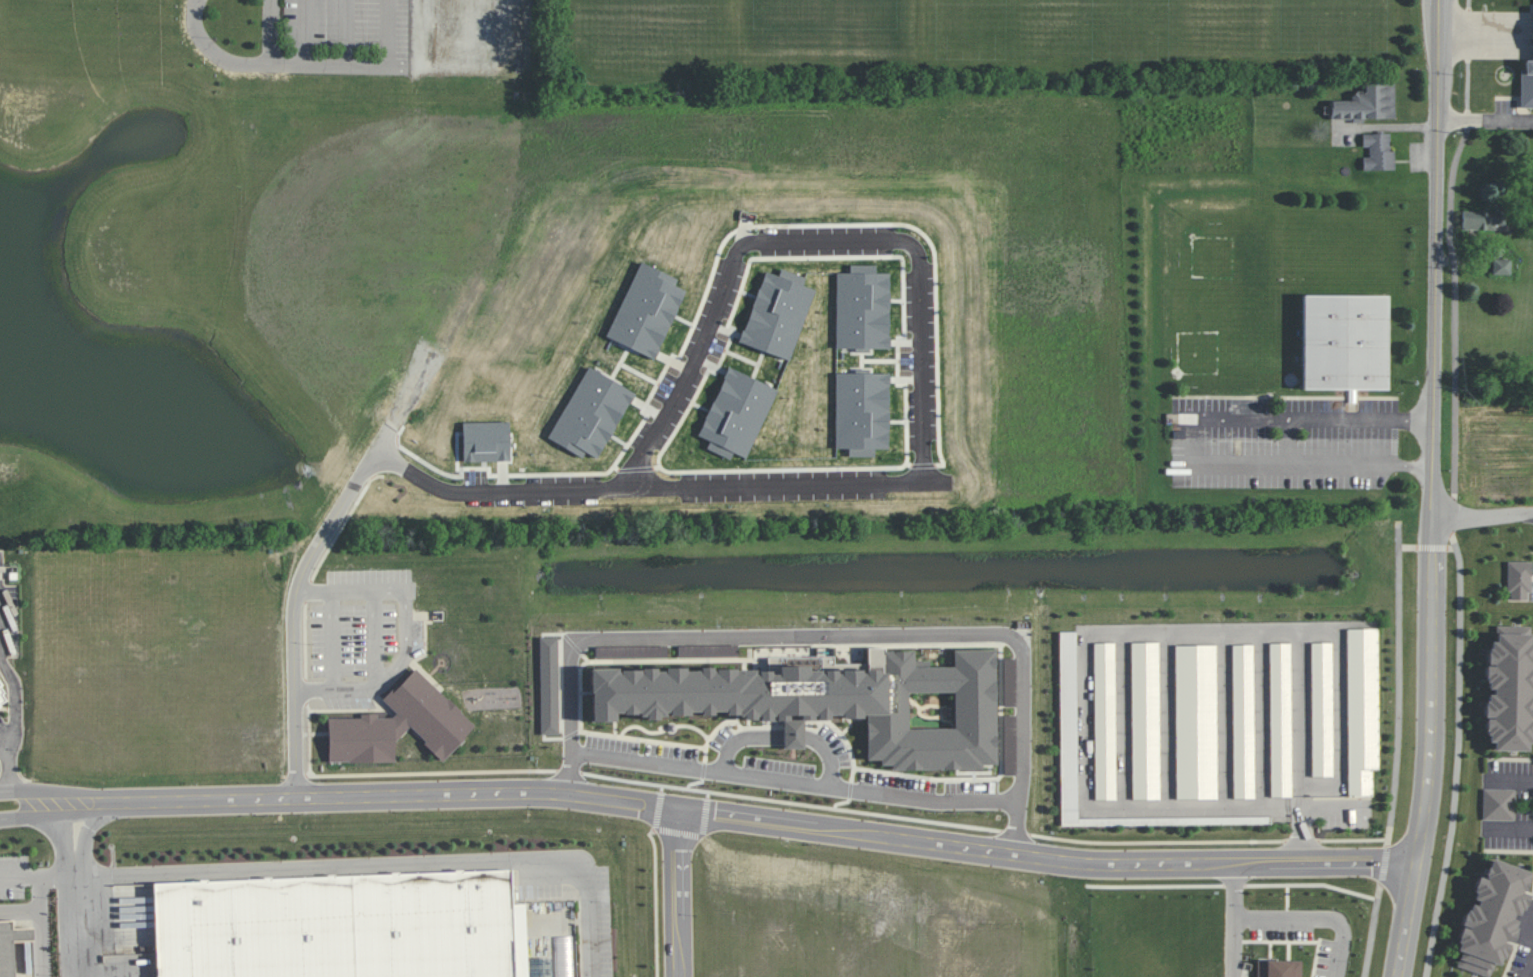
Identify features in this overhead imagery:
road: (270, 31)
road: (308, 32)
road: (346, 33)
road: (386, 33)
road: (264, 63)
building: (1527, 81)
building: (1367, 103)
road: (1485, 120)
building: (1378, 151)
building: (1482, 219)
road: (1452, 246)
road: (1436, 261)
building: (1501, 266)
building: (1344, 342)
building: (1249, 405)
road: (1309, 418)
road: (931, 428)
road: (1308, 463)
road: (1453, 515)
road: (1482, 517)
road: (1427, 545)
building: (1518, 580)
road: (352, 594)
road: (297, 599)
road: (827, 635)
road: (335, 643)
road: (407, 647)
road: (378, 683)
road: (1399, 683)
building: (549, 686)
building: (1509, 689)
road: (16, 695)
building: (4, 698)
building: (833, 702)
road: (1341, 706)
building: (1321, 709)
building: (1362, 709)
road: (1088, 717)
building: (1280, 719)
building: (1145, 720)
building: (1104, 721)
building: (1195, 721)
building: (1243, 721)
building: (399, 726)
building: (1068, 726)
road: (786, 734)
road: (4, 746)
road: (1304, 746)
road: (1431, 750)
road: (1458, 757)
road: (9, 767)
road: (1510, 780)
road: (794, 783)
road: (48, 793)
building: (1498, 804)
road: (48, 815)
road: (757, 820)
road: (1510, 829)
road: (92, 830)
road: (64, 845)
road: (1384, 864)
road: (377, 865)
road: (34, 876)
road: (679, 893)
road: (656, 901)
road: (1310, 917)
building: (1492, 917)
road: (1229, 920)
road: (41, 926)
building: (337, 926)
road: (73, 927)
road: (1372, 930)
building: (11, 945)
building: (564, 956)
road: (1529, 966)
building: (1279, 968)

